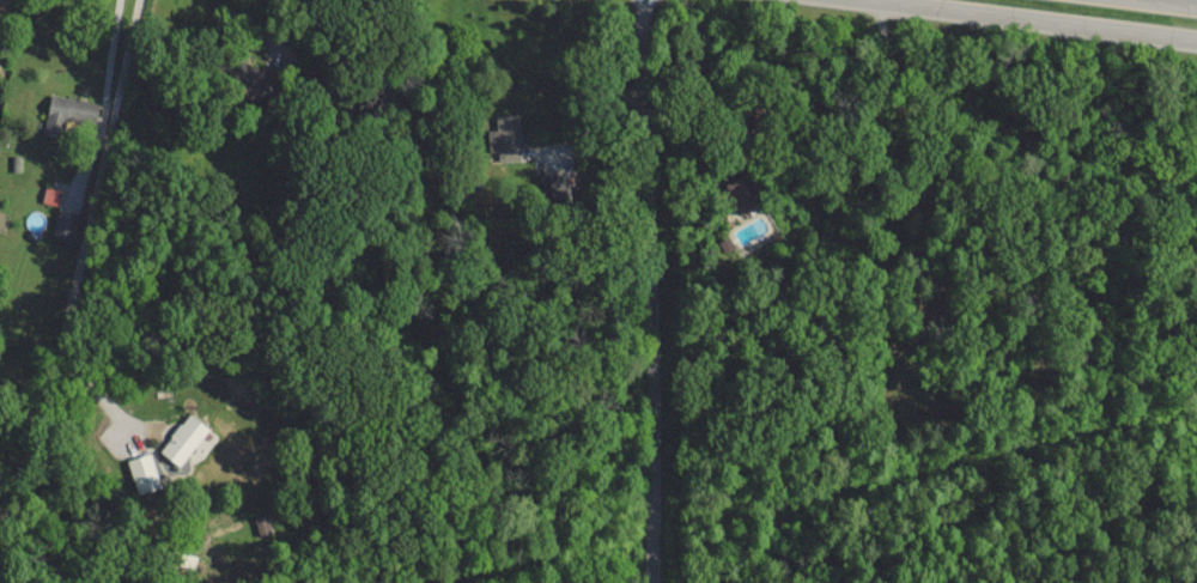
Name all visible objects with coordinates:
building: (1, 0)
road: (1181, 1)
road: (1045, 18)
building: (237, 77)
road: (105, 101)
building: (65, 113)
building: (505, 136)
building: (555, 186)
building: (739, 194)
building: (49, 195)
building: (63, 225)
road: (652, 291)
building: (182, 439)
building: (142, 472)

